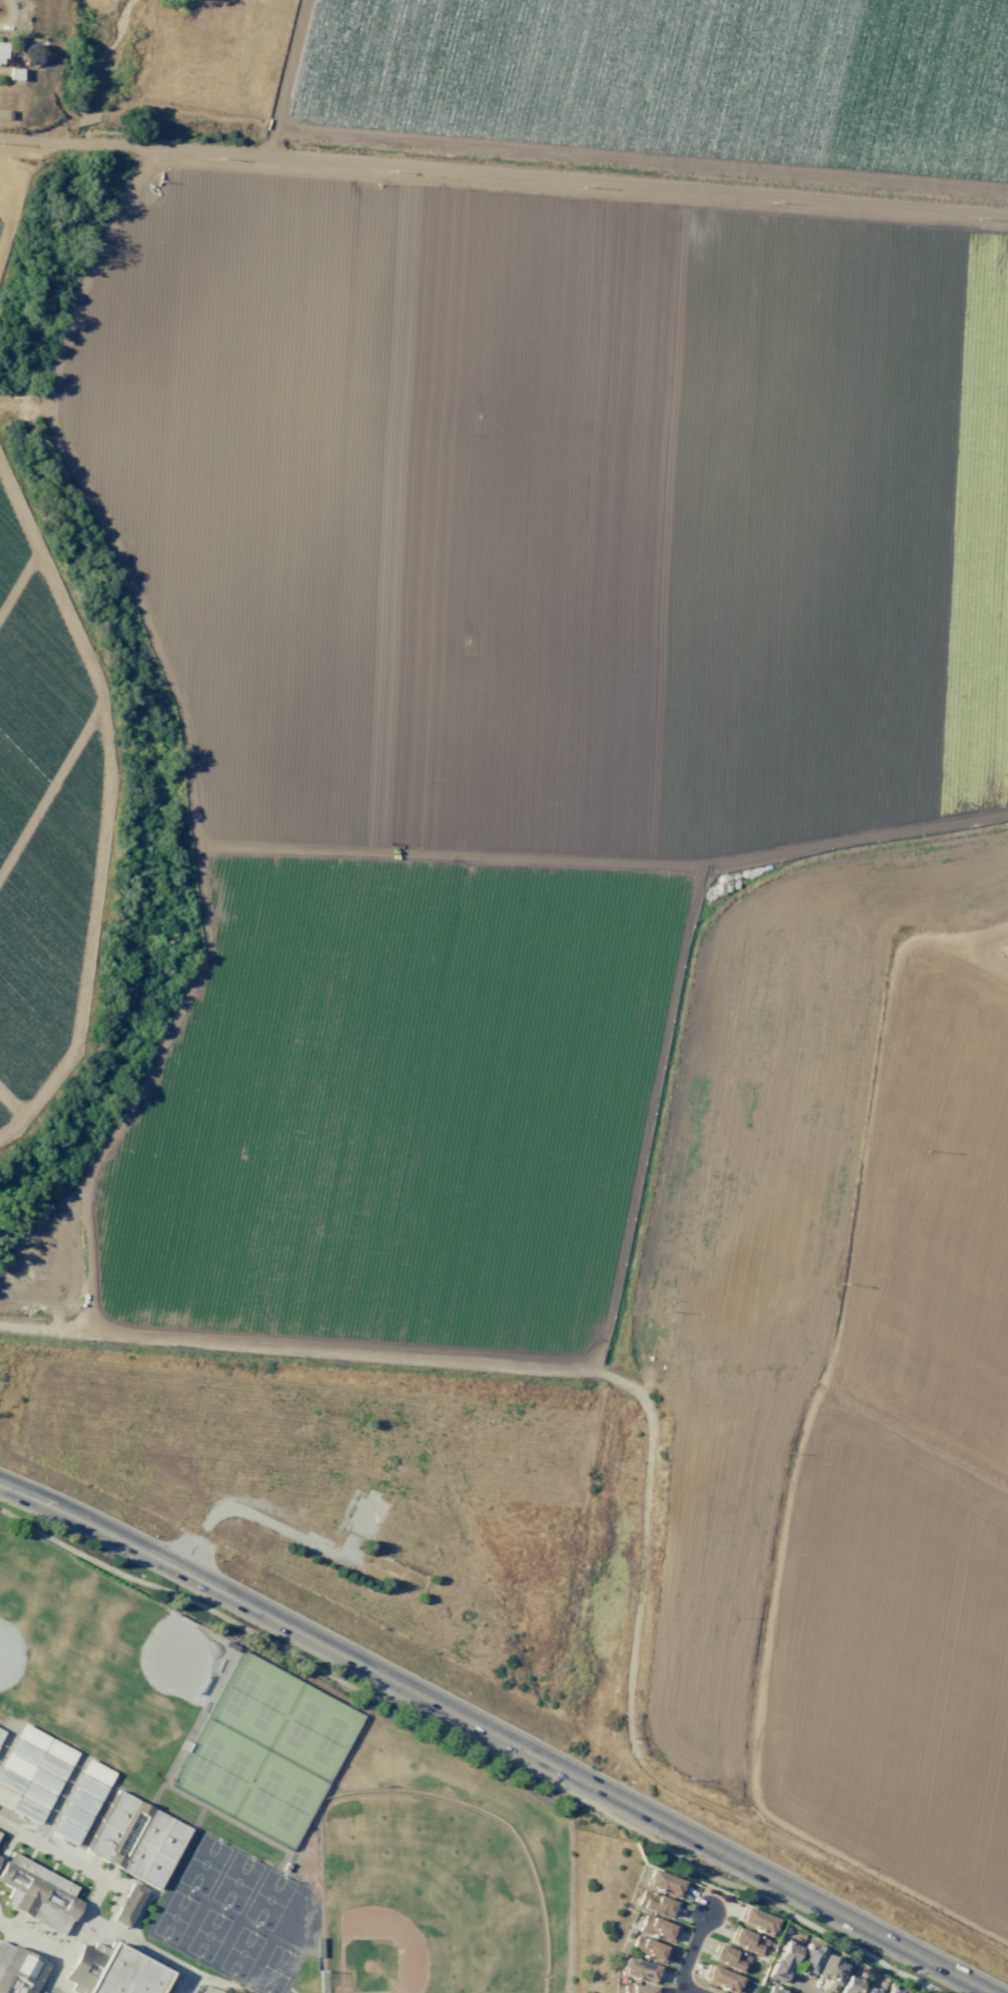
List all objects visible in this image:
building: (2, 52)
building: (2, 114)
crop: (3, 240)
crop: (526, 606)
crop: (38, 822)
crop: (911, 1485)
park: (102, 1658)
road: (5, 1728)
road: (497, 1733)
building: (1, 1734)
building: (32, 1737)
road: (7, 1738)
road: (474, 1744)
building: (24, 1752)
park: (267, 1752)
building: (60, 1753)
building: (16, 1767)
building: (51, 1767)
building: (98, 1773)
building: (44, 1781)
building: (10, 1782)
building: (89, 1787)
building: (36, 1796)
building: (7, 1798)
road: (59, 1800)
building: (82, 1802)
road: (158, 1809)
building: (28, 1811)
building: (74, 1816)
building: (66, 1831)
road: (254, 1836)
building: (137, 1840)
building: (663, 1883)
road: (163, 1886)
building: (38, 1894)
road: (94, 1898)
park: (425, 1898)
building: (655, 1903)
building: (128, 1904)
park: (238, 1917)
building: (756, 1921)
building: (657, 1928)
building: (784, 1929)
building: (747, 1941)
building: (648, 1949)
road: (146, 1950)
road: (690, 1951)
building: (728, 1958)
building: (809, 1959)
building: (782, 1961)
building: (638, 1970)
building: (829, 1971)
building: (19, 1972)
building: (114, 1972)
building: (720, 1978)
road: (800, 1985)
building: (849, 1985)
building: (639, 1988)
road: (692, 1988)
building: (773, 1990)
building: (869, 1991)
building: (889, 1991)
road: (808, 1992)
building: (895, 1992)

